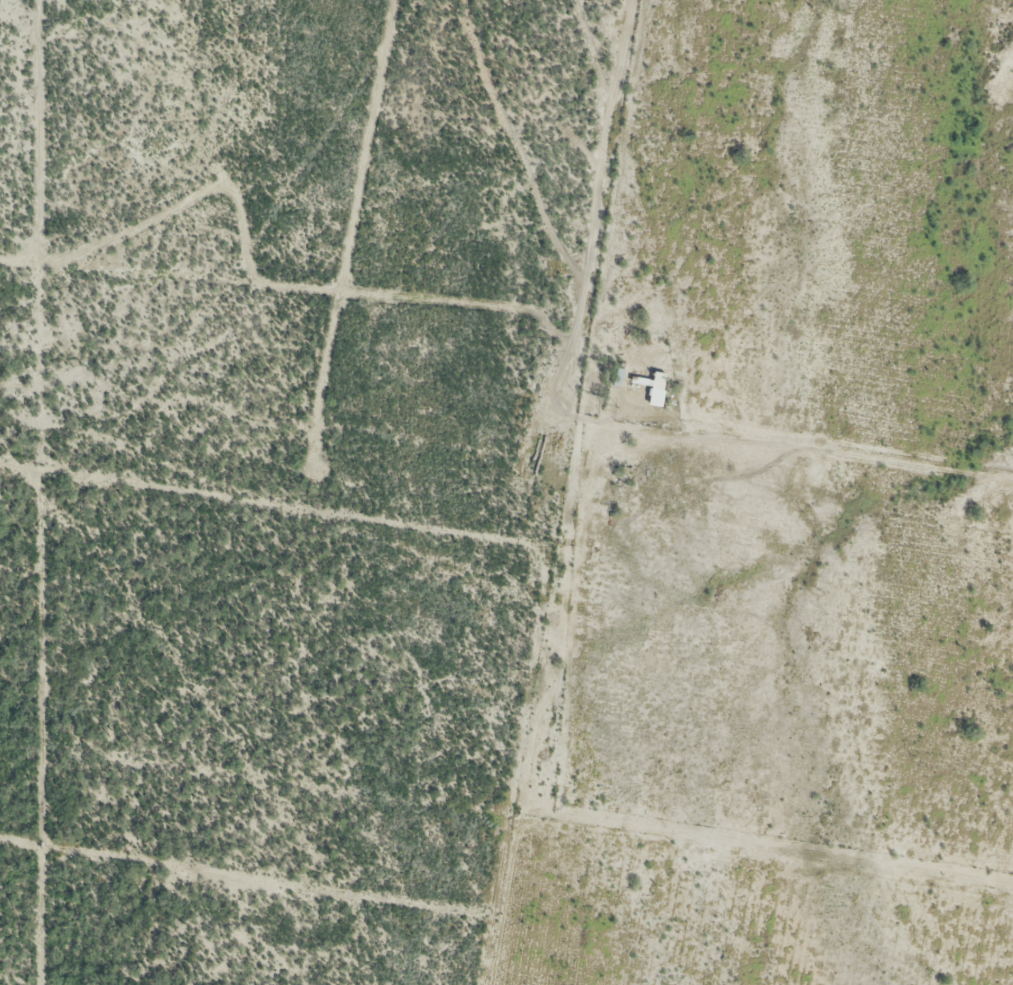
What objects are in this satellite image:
building: (617, 380)
building: (657, 381)

